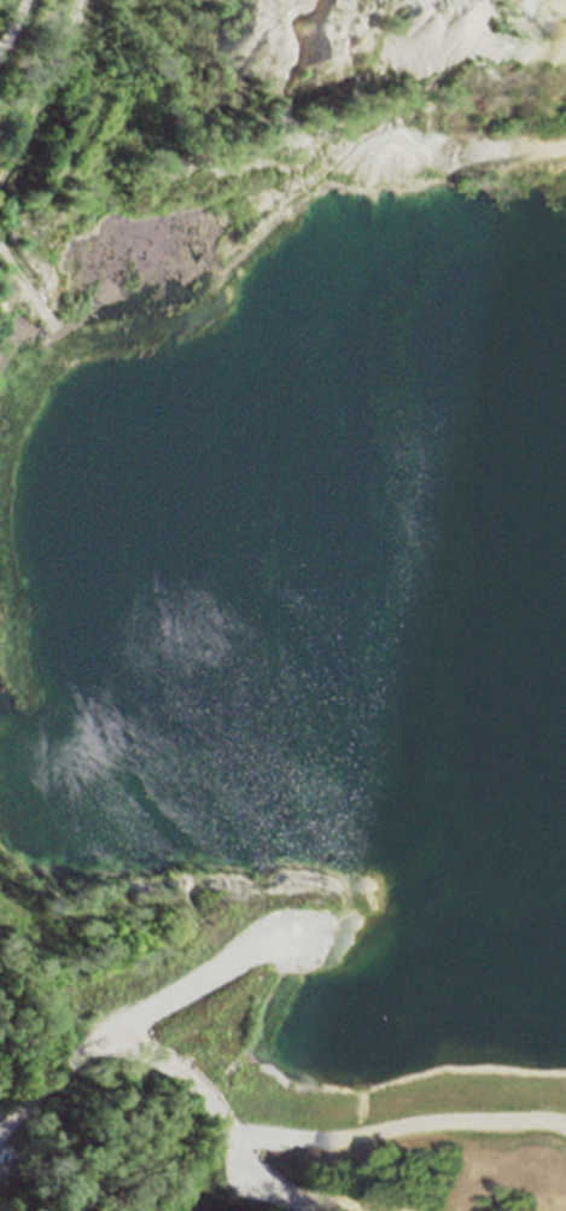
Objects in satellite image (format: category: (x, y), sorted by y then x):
quarry: (282, 465)

